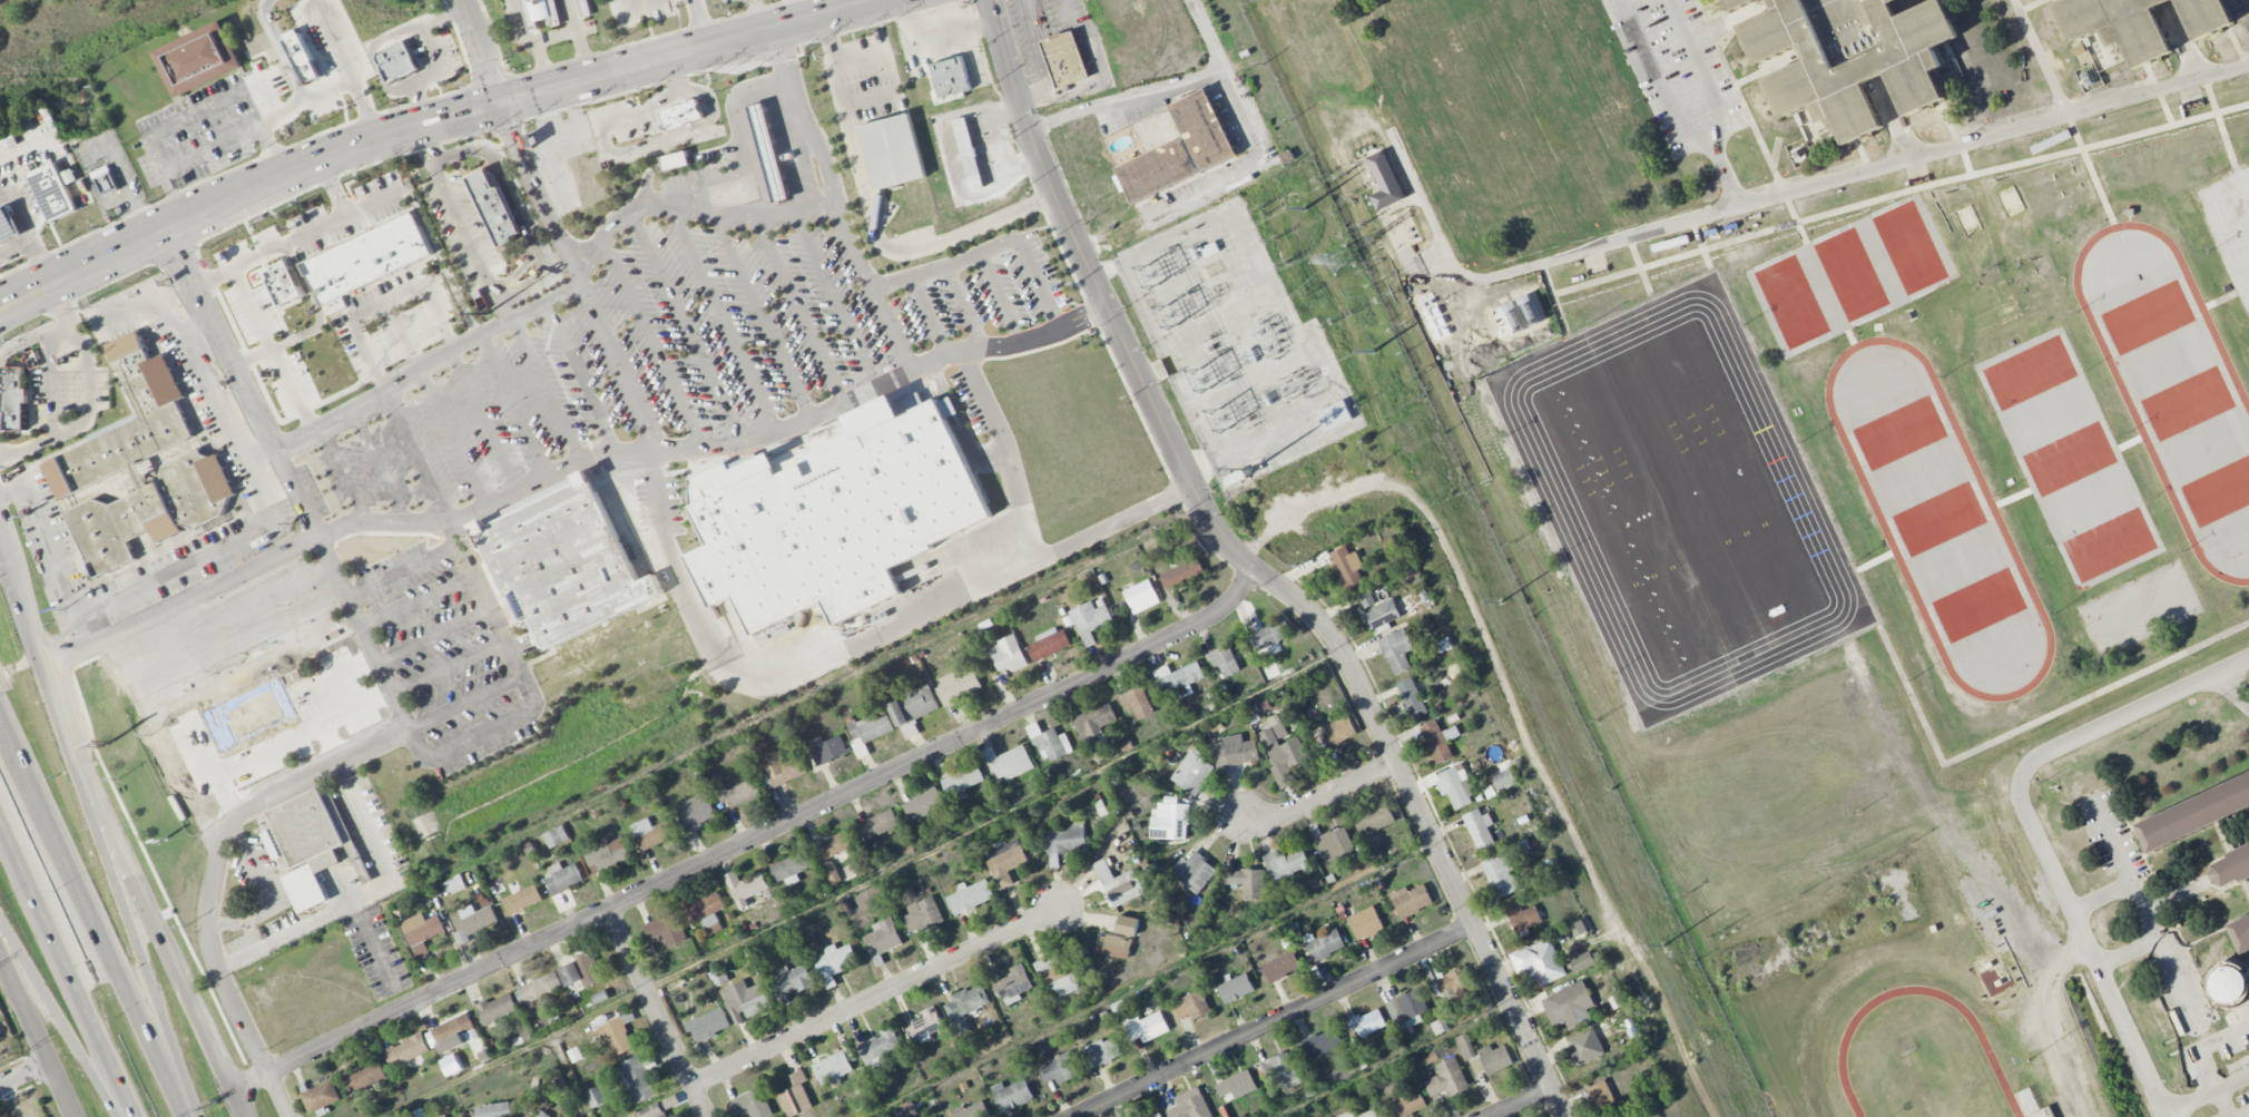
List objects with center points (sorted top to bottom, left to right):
building: (1739, 4)
road: (1906, 6)
road: (2030, 6)
building: (582, 8)
road: (1462, 8)
building: (539, 13)
building: (2204, 14)
road: (706, 23)
building: (2118, 25)
road: (1575, 32)
road: (556, 37)
road: (333, 39)
road: (578, 39)
road: (2184, 41)
road: (531, 42)
road: (2236, 43)
road: (1033, 48)
road: (284, 50)
road: (483, 51)
building: (1849, 57)
building: (1064, 58)
building: (197, 59)
building: (289, 59)
building: (396, 62)
road: (1768, 69)
road: (1701, 70)
parking lot: (1676, 71)
road: (2045, 74)
road: (1100, 75)
building: (951, 78)
road: (1229, 78)
road: (1597, 89)
road: (2158, 92)
road: (1127, 96)
traffic signals: (498, 105)
building: (1507, 105)
road: (199, 111)
road: (1673, 111)
road: (1745, 111)
building: (681, 115)
road: (1893, 118)
road: (432, 121)
road: (1652, 124)
road: (1953, 137)
road: (1394, 143)
road: (425, 145)
building: (1181, 149)
building: (891, 151)
building: (769, 153)
gas station: (769, 153)
building: (969, 153)
building: (232, 155)
building: (785, 158)
building: (676, 161)
road: (1863, 169)
building: (105, 180)
building: (591, 182)
building: (1385, 183)
road: (331, 188)
road: (1755, 189)
building: (52, 193)
road: (176, 195)
road: (1866, 202)
road: (838, 204)
building: (493, 206)
road: (524, 208)
road: (689, 208)
power tower: (1303, 208)
road: (1564, 212)
road: (873, 223)
building: (8, 225)
gas station: (8, 225)
road: (1626, 231)
road: (27, 234)
road: (467, 234)
road: (298, 237)
building: (367, 258)
road: (559, 261)
road: (442, 262)
power tower: (1344, 264)
road: (945, 266)
building: (284, 283)
road: (1037, 283)
road: (1001, 296)
road: (836, 300)
road: (384, 301)
road: (965, 307)
road: (801, 310)
road: (503, 313)
road: (763, 315)
road: (931, 316)
road: (512, 319)
road: (724, 319)
road: (197, 327)
road: (686, 327)
road: (652, 343)
power substation: (1236, 343)
road: (273, 350)
power tower: (1373, 351)
road: (252, 356)
road: (619, 365)
road: (580, 376)
road: (548, 389)
road: (91, 395)
building: (14, 396)
road: (514, 403)
building: (1337, 413)
road: (484, 419)
road: (451, 435)
road: (1008, 452)
road: (416, 458)
road: (380, 466)
building: (140, 474)
road: (345, 474)
building: (1236, 476)
road: (254, 486)
building: (836, 518)
road: (50, 552)
building: (567, 566)
building: (1347, 567)
road: (245, 569)
road: (402, 569)
road: (1256, 571)
building: (1182, 574)
building: (1142, 596)
building: (1366, 597)
power tower: (1501, 601)
road: (418, 602)
road: (234, 611)
building: (1381, 614)
road: (494, 618)
building: (1090, 620)
road: (434, 635)
building: (1270, 636)
road: (248, 641)
road: (854, 641)
building: (1049, 644)
building: (1397, 650)
building: (1008, 654)
road: (1894, 659)
building: (1225, 660)
road: (114, 668)
road: (451, 670)
road: (265, 675)
building: (1181, 680)
road: (2237, 685)
building: (957, 686)
building: (1412, 697)
building: (1137, 702)
road: (468, 704)
road: (282, 709)
building: (913, 709)
road: (2131, 715)
building: (1092, 724)
road: (169, 726)
building: (1340, 729)
building: (868, 732)
building: (1440, 741)
road: (297, 742)
building: (1049, 743)
building: (829, 751)
building: (1234, 752)
building: (1283, 754)
building: (1009, 762)
building: (783, 768)
building: (1192, 773)
building: (963, 780)
building: (1503, 780)
building: (1457, 786)
building: (740, 792)
road: (1319, 797)
building: (924, 804)
road: (247, 807)
building: (695, 811)
building: (2196, 814)
building: (1375, 817)
building: (1170, 822)
building: (880, 824)
road: (114, 825)
building: (1480, 827)
building: (652, 833)
building: (556, 836)
road: (752, 837)
building: (1065, 842)
building: (305, 844)
building: (835, 844)
building: (1335, 844)
building: (1522, 846)
building: (607, 854)
building: (1004, 862)
building: (1286, 863)
building: (792, 868)
building: (2231, 868)
building: (832, 872)
building: (1194, 872)
road: (2131, 872)
building: (1500, 875)
building: (563, 876)
building: (1247, 882)
building: (1119, 884)
building: (746, 886)
road: (267, 890)
road: (2102, 892)
building: (970, 895)
building: (522, 900)
building: (1412, 900)
road: (168, 903)
building: (706, 912)
building: (923, 914)
building: (1523, 918)
road: (92, 921)
building: (472, 921)
building: (1366, 922)
road: (303, 928)
building: (1579, 928)
building: (667, 930)
building: (421, 932)
building: (2241, 933)
road: (138, 935)
building: (883, 937)
building: (1324, 944)
power tower: (1664, 944)
building: (1113, 945)
road: (2089, 948)
road: (2127, 948)
building: (1582, 961)
building: (835, 962)
building: (1539, 962)
building: (1281, 966)
road: (68, 967)
building: (581, 971)
building: (1063, 974)
building: (792, 980)
building: (1455, 982)
building: (1014, 984)
building: (539, 988)
building: (1236, 988)
road: (2183, 988)
road: (877, 994)
building: (745, 1000)
building: (966, 1006)
building: (1192, 1006)
building: (1569, 1006)
building: (498, 1008)
building: (1406, 1009)
road: (657, 1012)
road: (1276, 1021)
building: (925, 1023)
building: (1367, 1023)
road: (61, 1025)
building: (709, 1025)
building: (1146, 1026)
building: (1438, 1026)
road: (37, 1030)
building: (455, 1031)
building: (618, 1033)
building: (1323, 1042)
building: (1465, 1046)
building: (1585, 1046)
building: (878, 1047)
building: (407, 1050)
building: (1101, 1052)
building: (1428, 1058)
building: (1494, 1058)
road: (2206, 1059)
building: (834, 1066)
building: (1059, 1069)
building: (1281, 1069)
road: (26, 1076)
building: (365, 1076)
building: (637, 1077)
building: (1447, 1079)
building: (1236, 1086)
road: (2206, 1094)
building: (1012, 1095)
road: (277, 1096)
building: (321, 1096)
building: (596, 1096)
building: (795, 1096)
building: (1604, 1099)
road: (1523, 1103)
building: (753, 1104)
building: (1190, 1105)
building: (1407, 1105)
building: (493, 1110)
building: (972, 1110)
building: (652, 1111)
building: (2046, 1111)
building: (542, 1114)
building: (1369, 1114)
building: (1156, 1115)
building: (1347, 1115)
building: (444, 1116)
building: (462, 1116)

